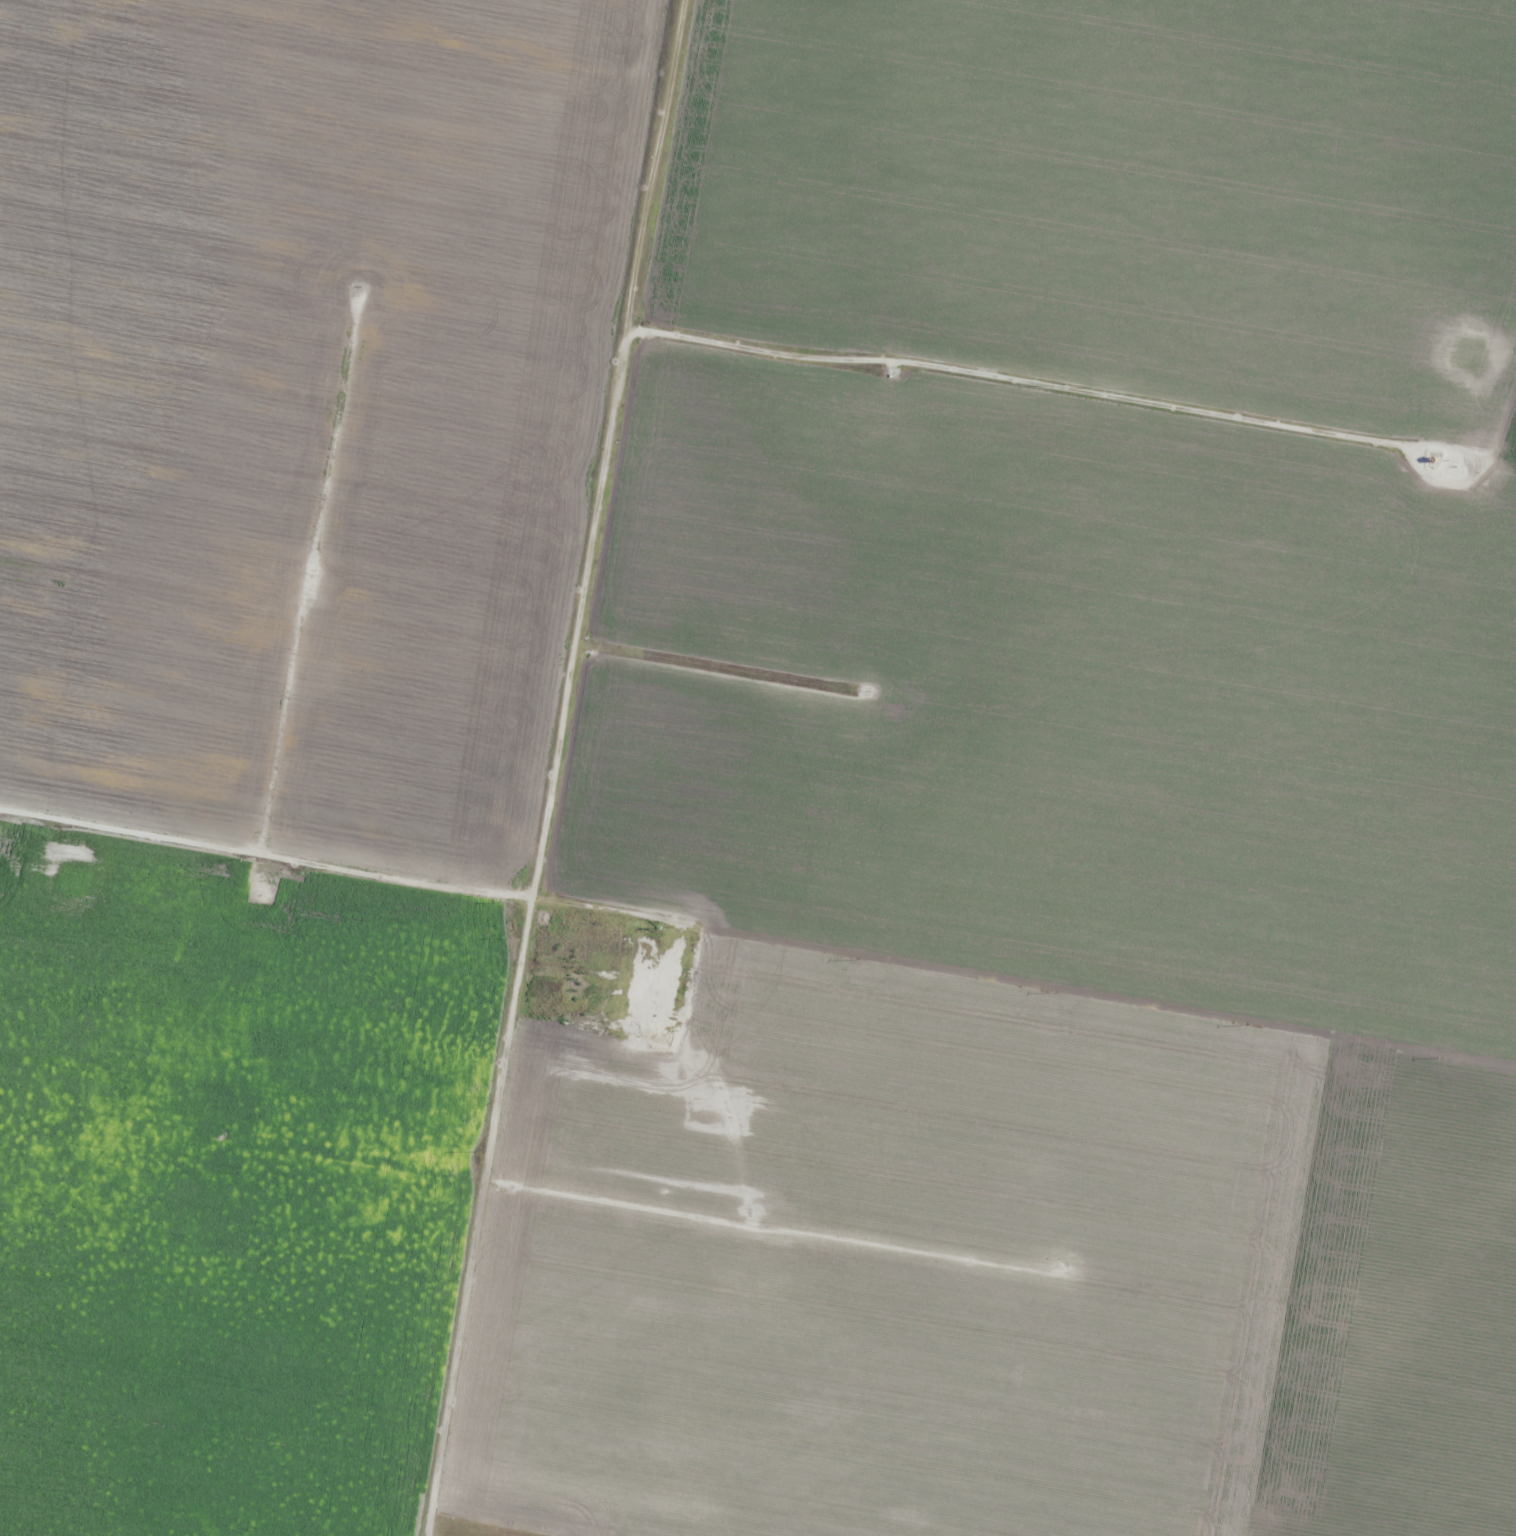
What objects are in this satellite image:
road: (555, 766)
road: (758, 938)

